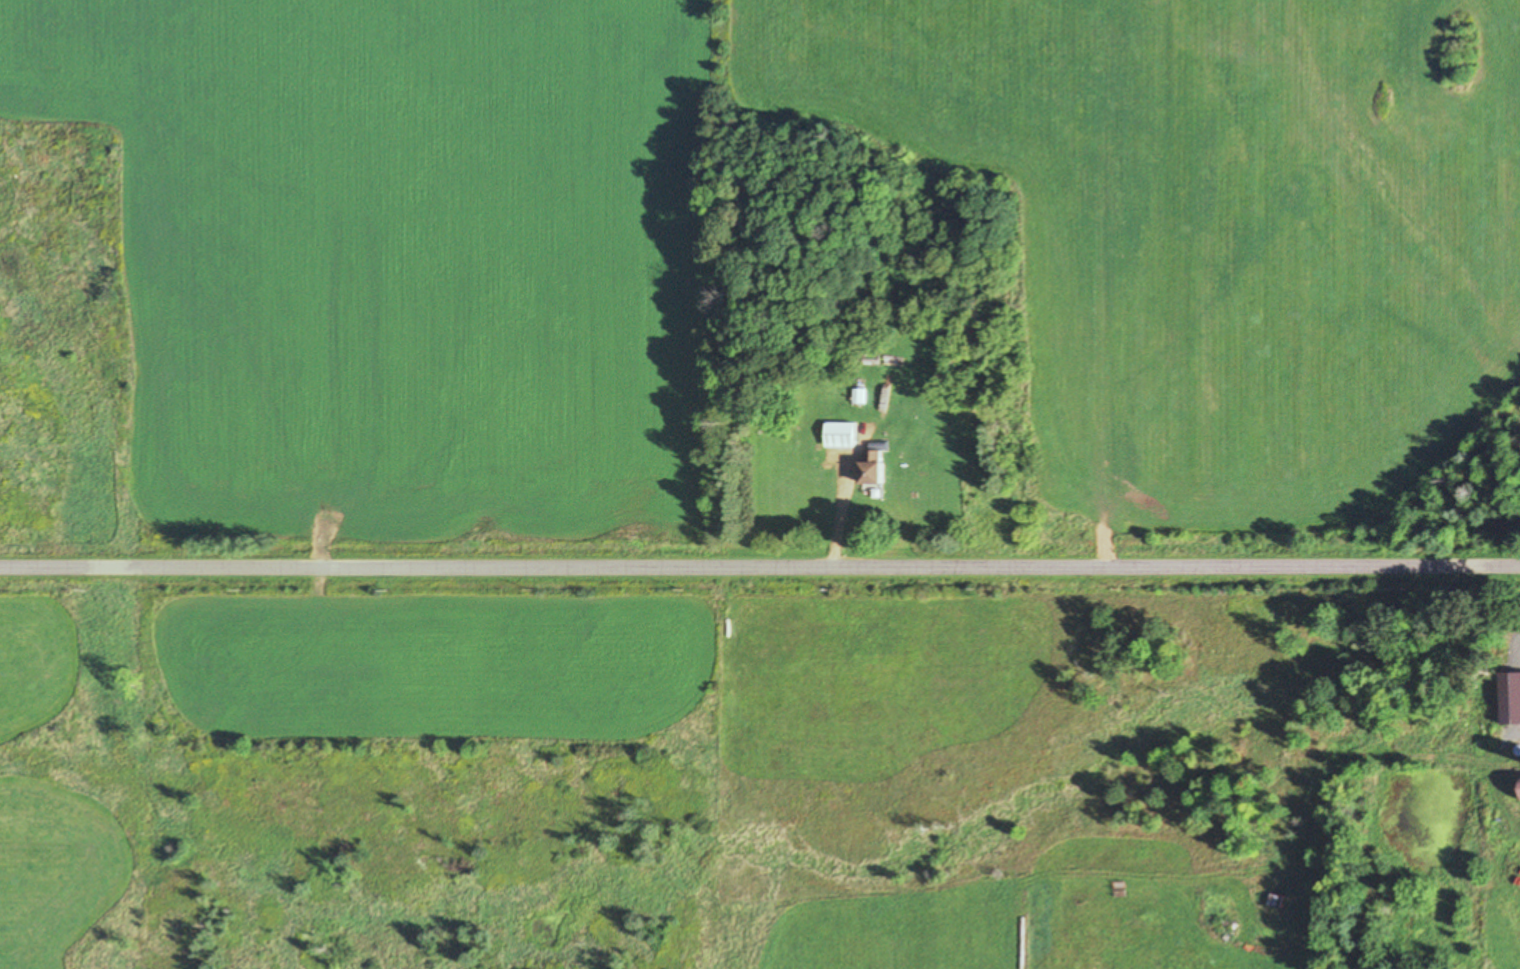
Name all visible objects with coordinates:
building: (859, 395)
building: (841, 435)
building: (874, 468)
road: (760, 567)
building: (1513, 720)

